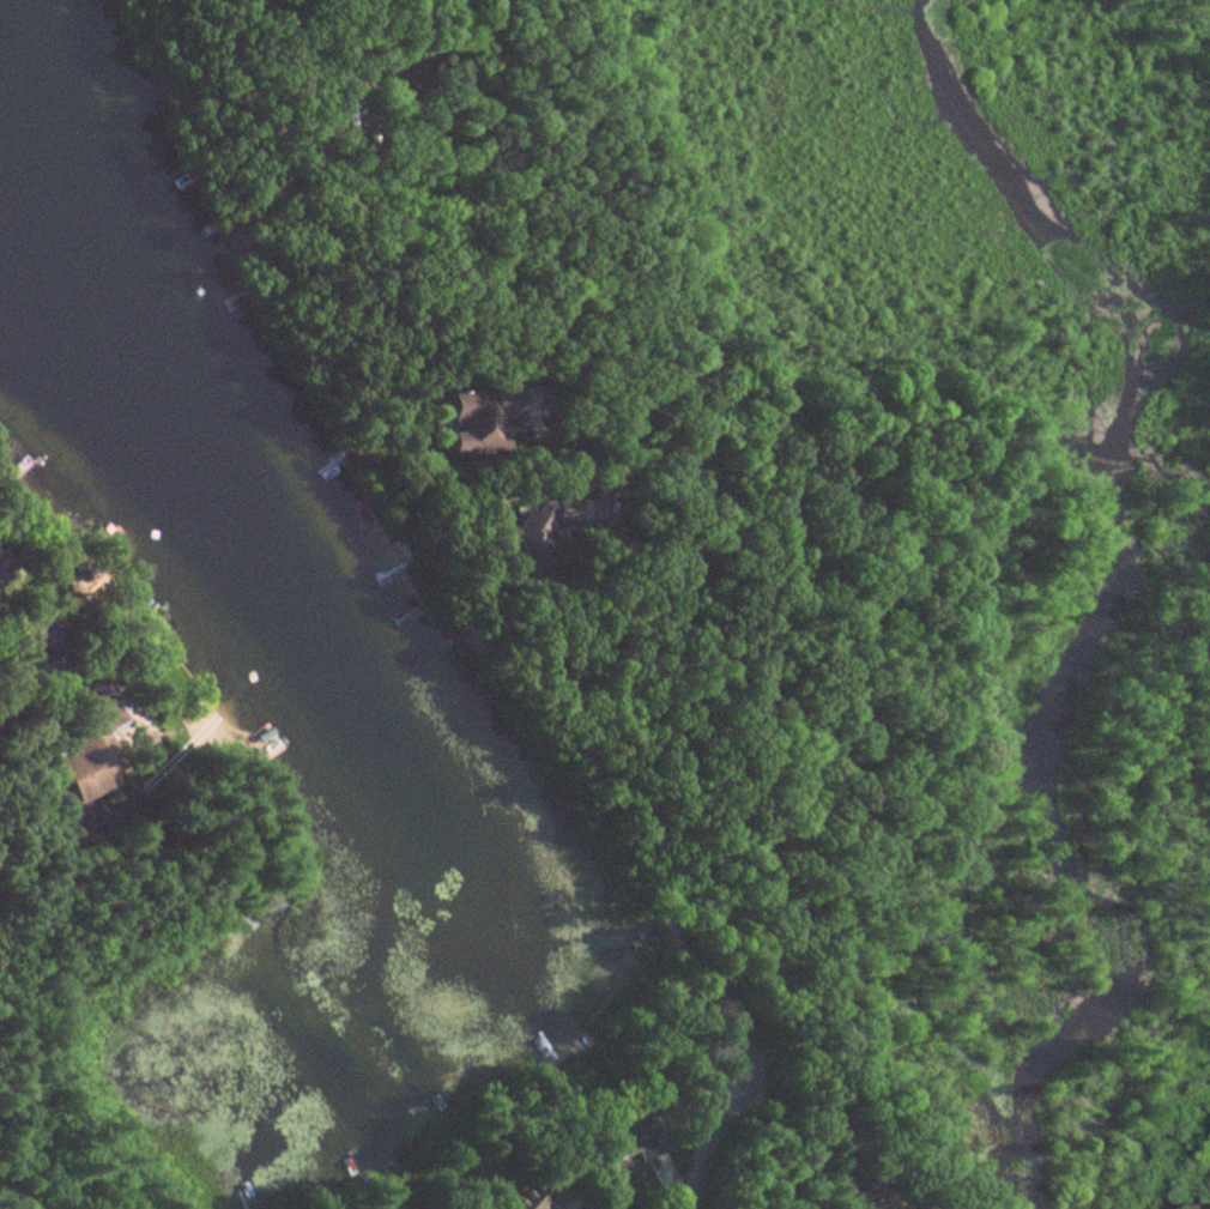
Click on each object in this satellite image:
building: (480, 421)
building: (544, 532)
road: (680, 596)
building: (26, 629)
building: (265, 743)
building: (83, 746)
road: (772, 1123)
building: (628, 1140)
building: (552, 1193)
building: (516, 1198)

